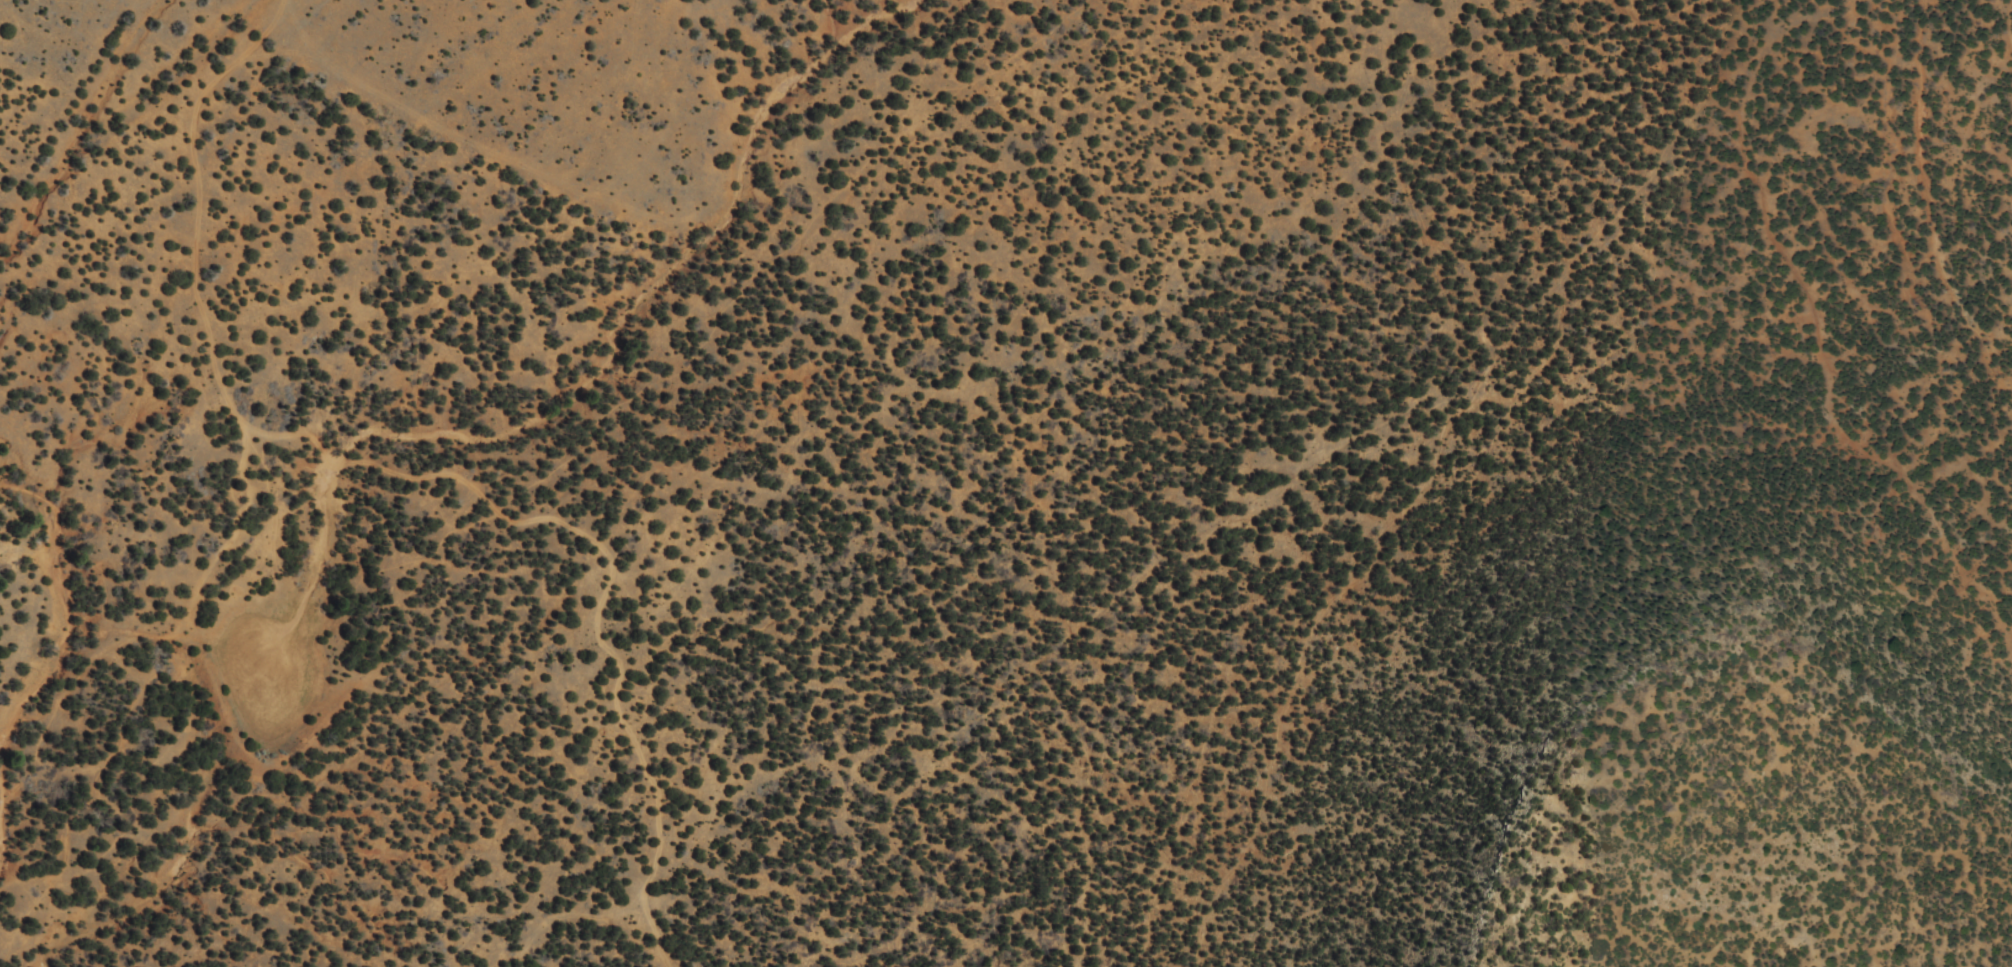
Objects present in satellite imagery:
road: (1980, 151)

